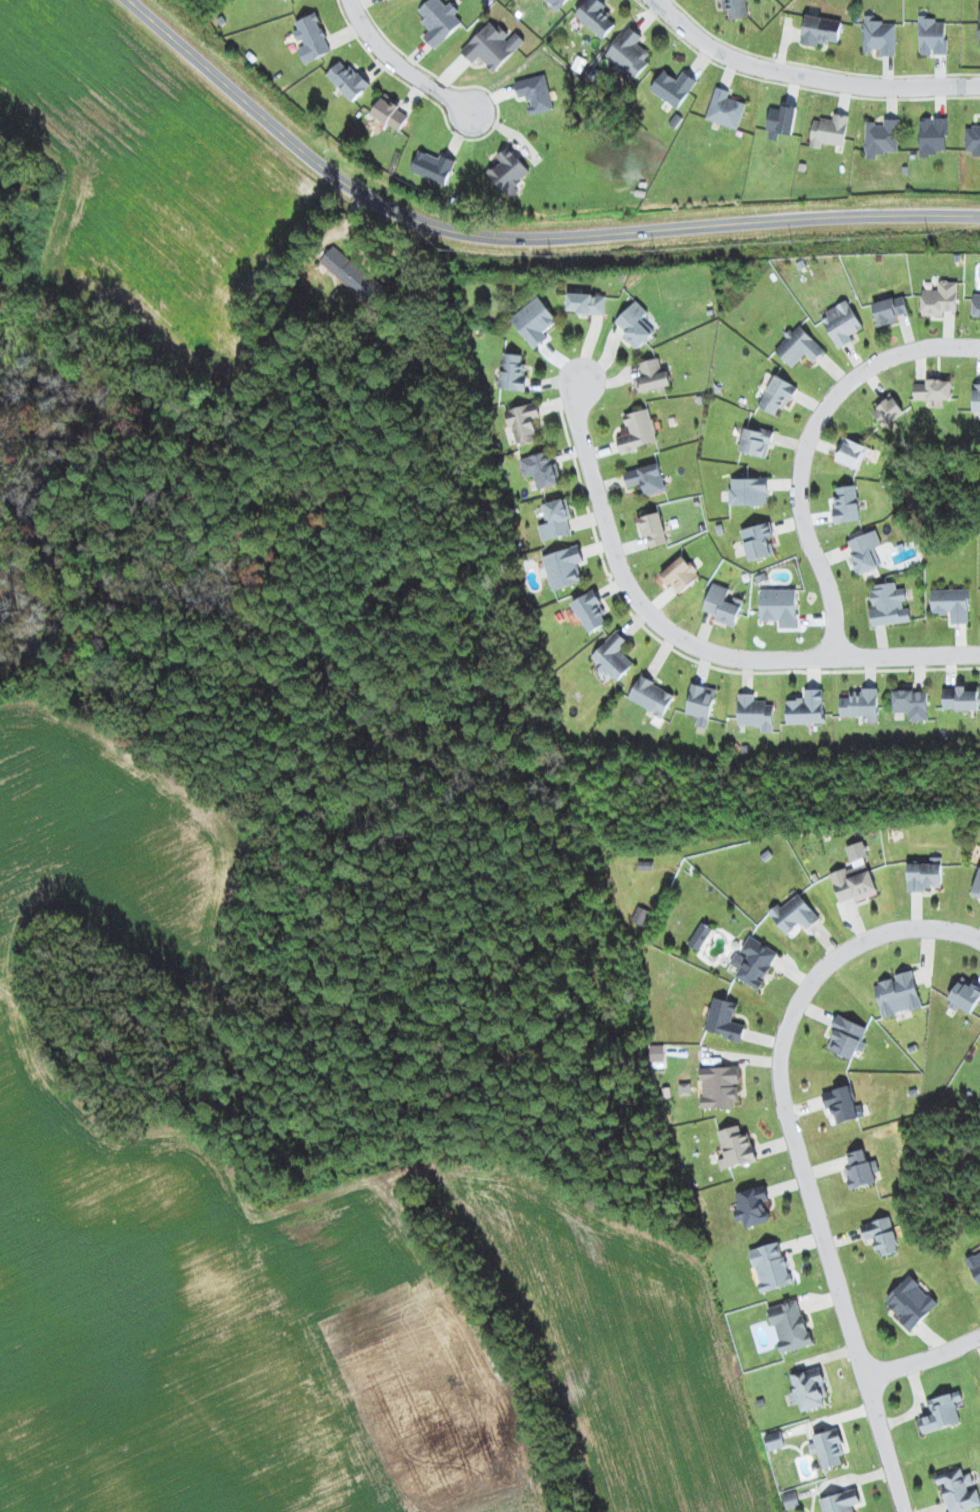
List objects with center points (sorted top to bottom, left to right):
building: (388, 0)
building: (556, 3)
building: (734, 8)
building: (596, 16)
building: (438, 20)
building: (979, 25)
building: (820, 30)
building: (879, 36)
building: (932, 36)
building: (312, 38)
building: (492, 46)
building: (629, 52)
road: (397, 66)
road: (804, 78)
building: (347, 80)
building: (673, 87)
building: (535, 93)
building: (725, 109)
building: (389, 112)
building: (781, 119)
building: (829, 130)
building: (932, 135)
building: (881, 137)
building: (972, 139)
building: (432, 166)
building: (509, 170)
road: (516, 236)
building: (350, 273)
building: (940, 298)
building: (586, 303)
building: (976, 304)
building: (889, 309)
building: (534, 321)
building: (842, 324)
building: (635, 325)
building: (799, 346)
building: (513, 372)
building: (653, 375)
building: (934, 390)
building: (777, 394)
building: (976, 397)
building: (887, 410)
building: (523, 422)
building: (638, 430)
building: (756, 441)
road: (802, 444)
building: (851, 453)
building: (541, 469)
building: (646, 478)
building: (748, 490)
building: (846, 504)
building: (555, 519)
building: (652, 528)
building: (758, 541)
building: (865, 552)
building: (563, 567)
building: (680, 574)
building: (723, 604)
building: (952, 604)
building: (888, 605)
building: (779, 606)
building: (590, 611)
road: (686, 642)
building: (613, 656)
building: (651, 696)
building: (960, 697)
building: (910, 703)
building: (701, 704)
building: (860, 704)
building: (806, 707)
building: (755, 712)
building: (925, 875)
building: (854, 876)
building: (977, 881)
building: (794, 914)
building: (641, 916)
building: (700, 936)
building: (754, 962)
building: (898, 994)
building: (965, 994)
building: (724, 1019)
building: (847, 1036)
building: (657, 1053)
building: (719, 1086)
building: (843, 1104)
building: (735, 1147)
road: (797, 1154)
building: (861, 1169)
building: (752, 1206)
building: (881, 1235)
building: (975, 1265)
building: (770, 1266)
building: (911, 1302)
building: (790, 1326)
road: (923, 1355)
building: (808, 1388)
building: (942, 1412)
building: (774, 1440)
building: (829, 1448)
building: (958, 1490)
building: (790, 1499)
building: (840, 1501)

